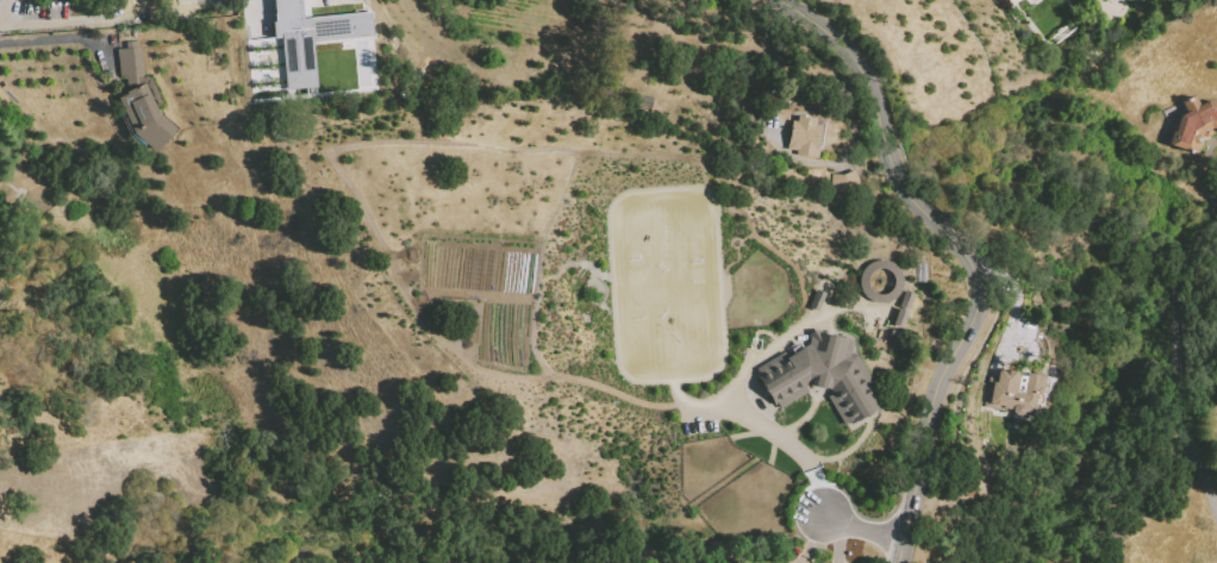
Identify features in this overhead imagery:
building: (191, 0)
building: (1003, 0)
road: (2, 5)
road: (61, 24)
building: (308, 38)
building: (139, 99)
building: (1194, 125)
building: (803, 136)
building: (843, 180)
road: (350, 186)
road: (963, 254)
building: (901, 308)
building: (822, 374)
building: (1011, 393)
road: (797, 450)
road: (861, 530)
road: (834, 538)
road: (812, 540)

